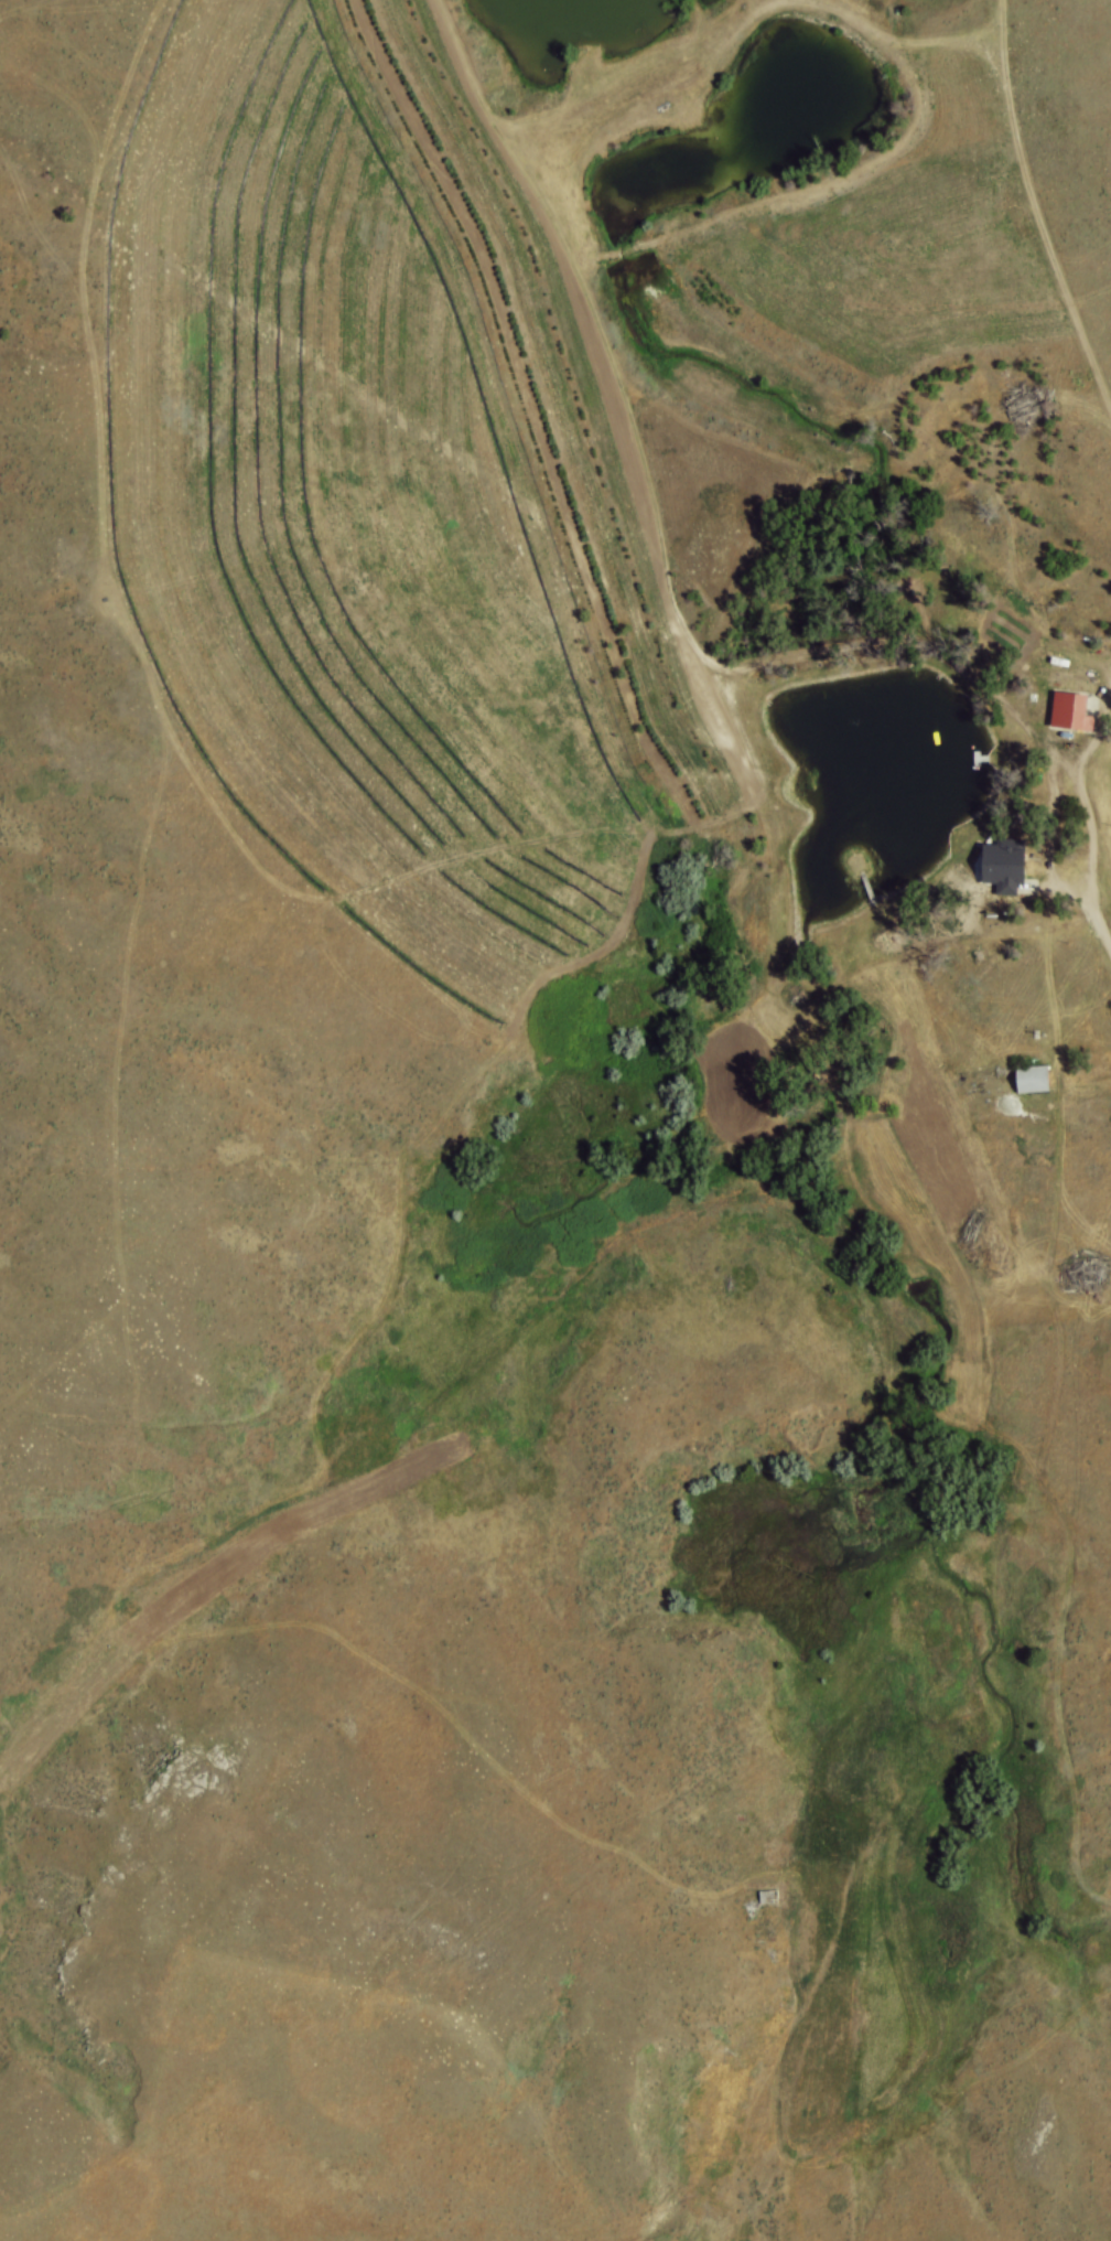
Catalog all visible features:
building: (1060, 719)
building: (1010, 866)
building: (997, 871)
road: (1078, 881)
building: (1023, 1082)
building: (769, 1897)

